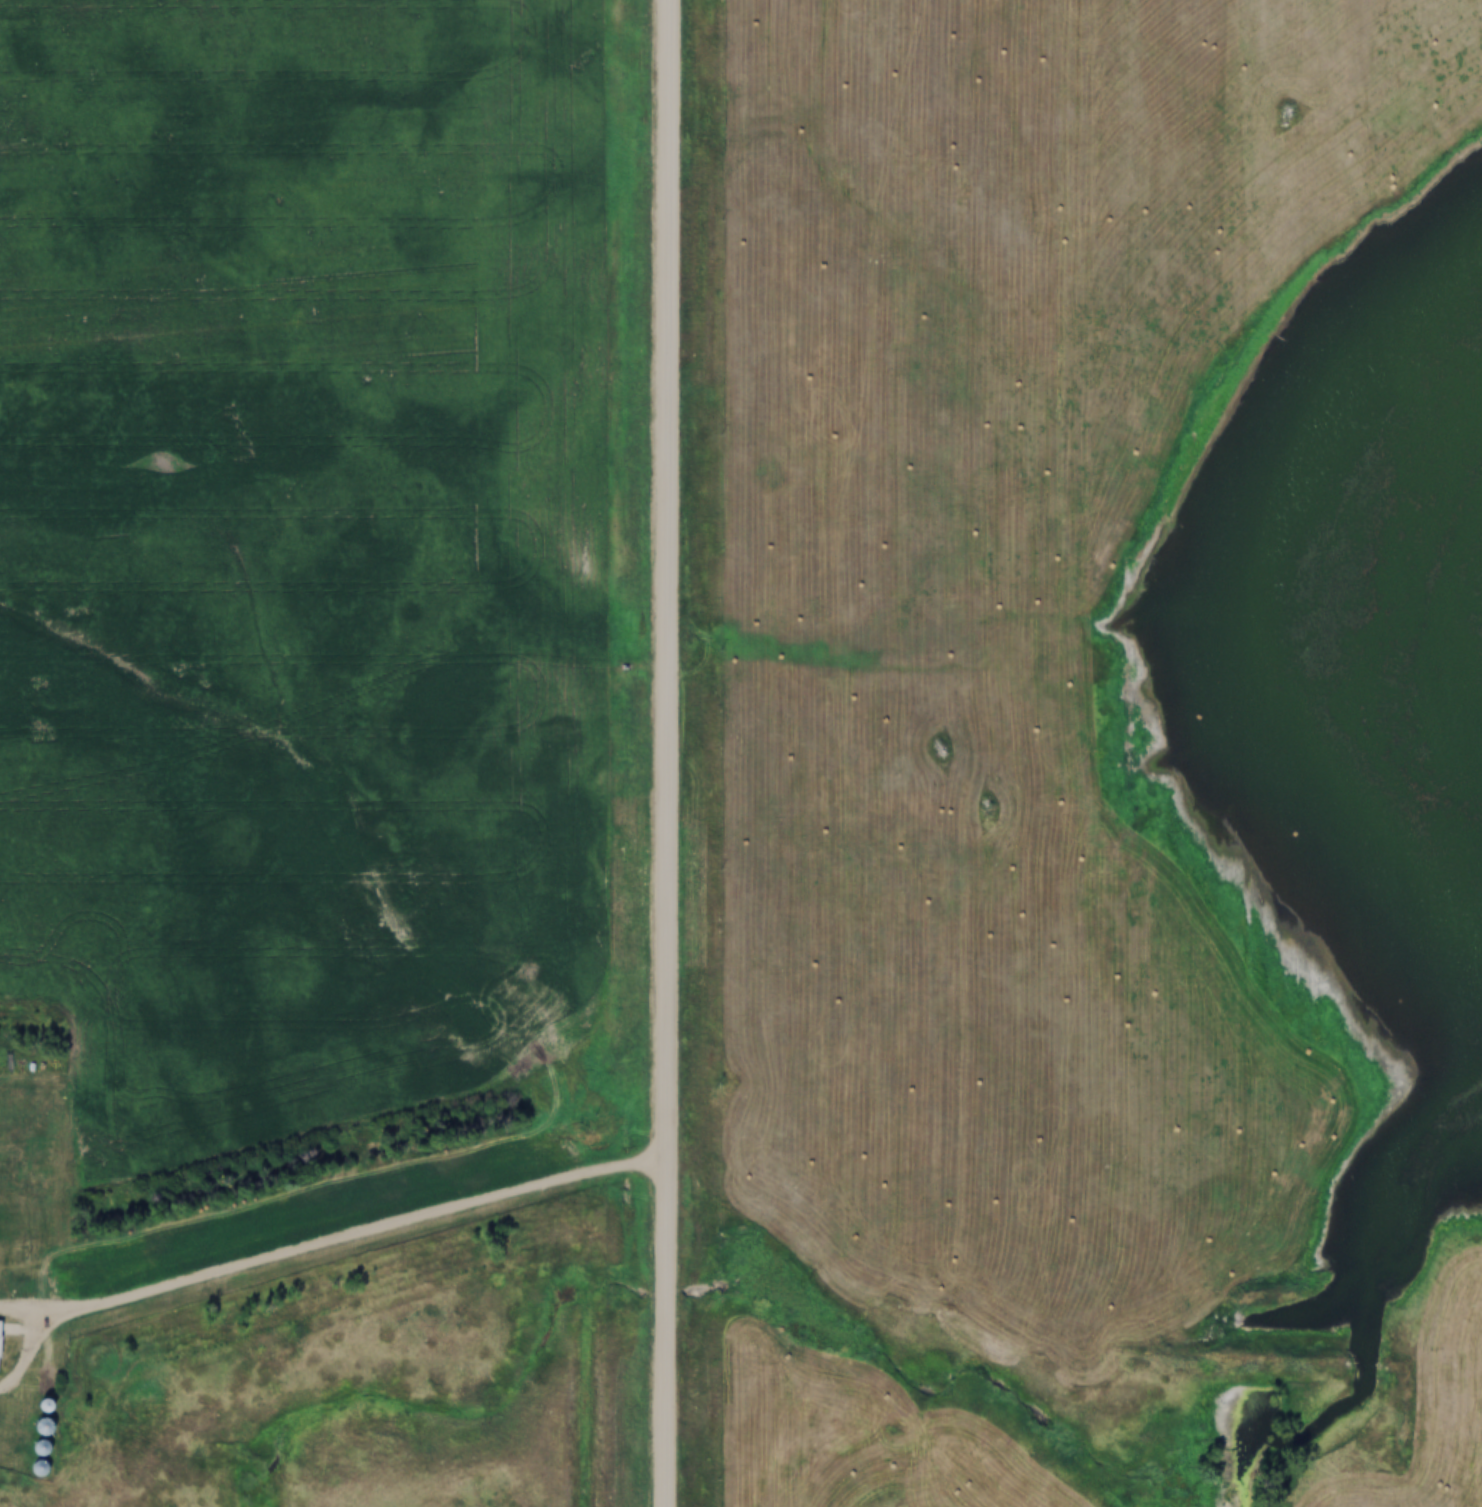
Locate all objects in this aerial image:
road: (671, 753)
road: (356, 1233)
road: (23, 1311)
road: (28, 1361)
building: (43, 1381)

